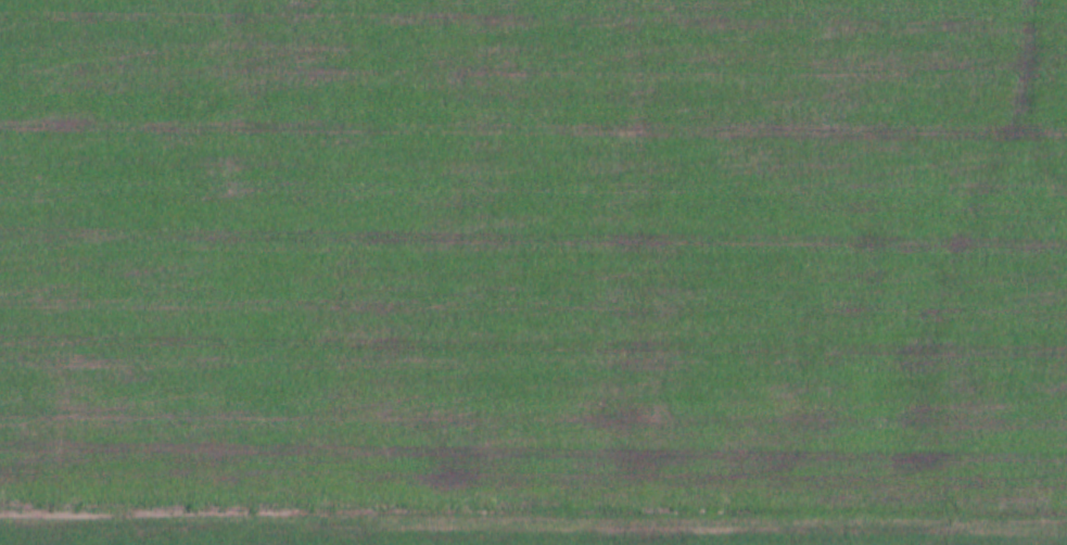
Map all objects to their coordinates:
crop: (533, 272)

